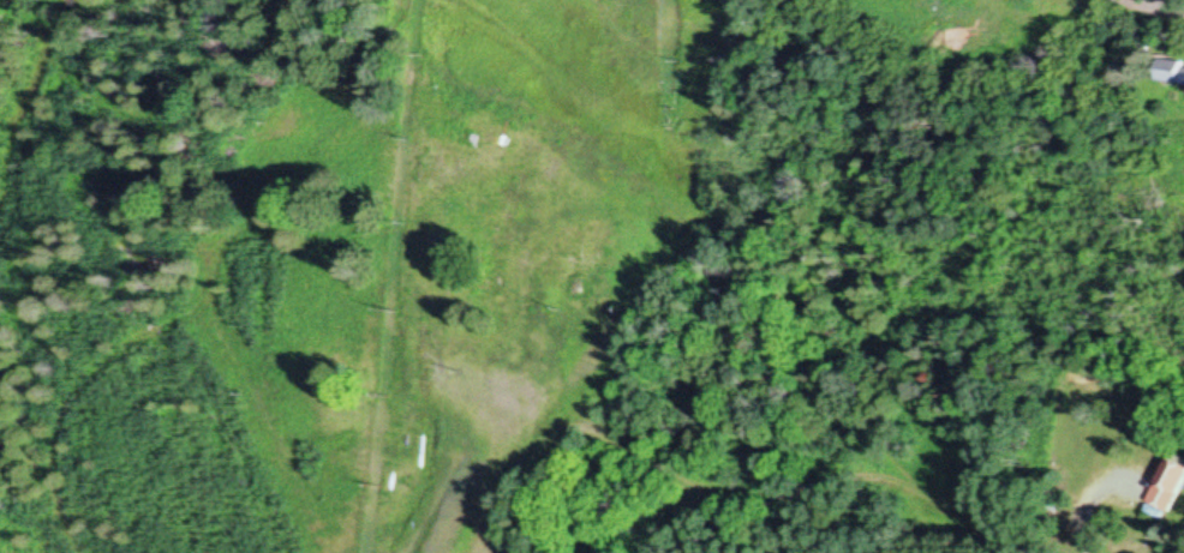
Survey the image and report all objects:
road: (1154, 11)
building: (1170, 72)
building: (1170, 487)

